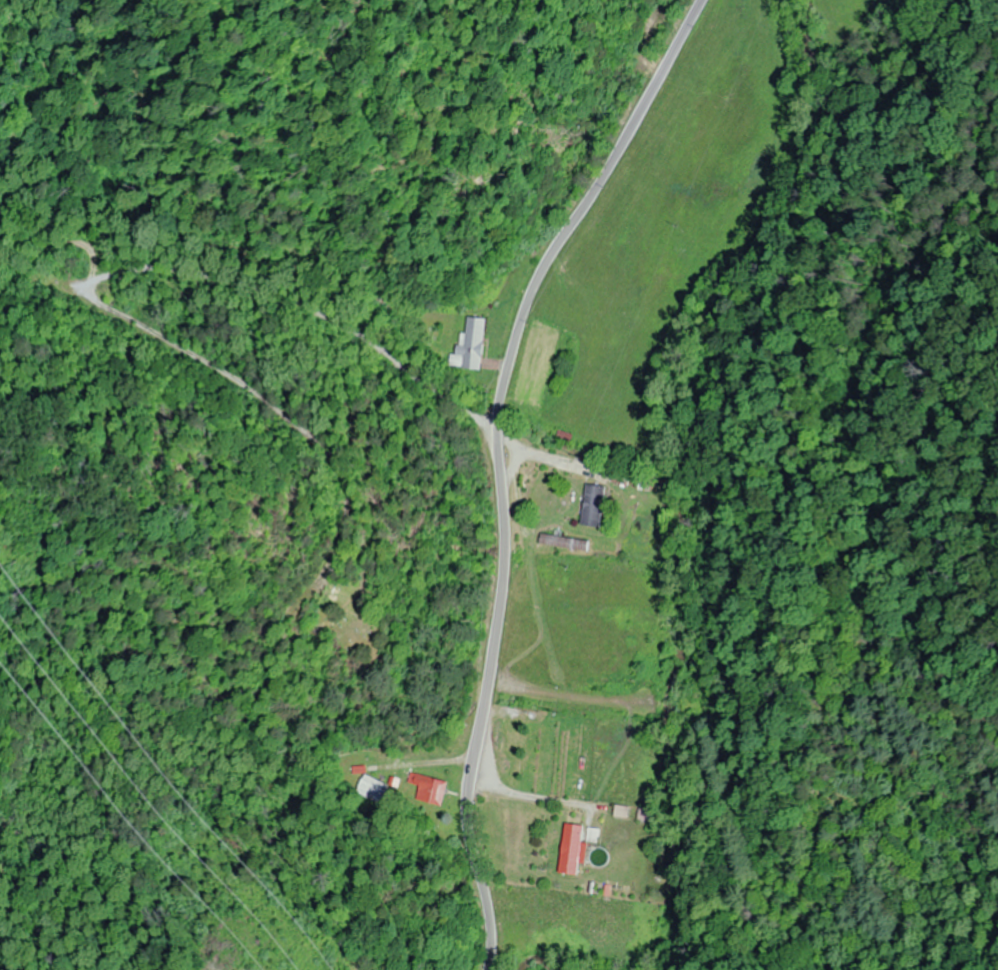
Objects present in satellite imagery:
building: (471, 343)
road: (499, 462)
building: (593, 505)
building: (563, 541)
building: (429, 788)
building: (372, 789)
building: (646, 814)
building: (571, 849)

